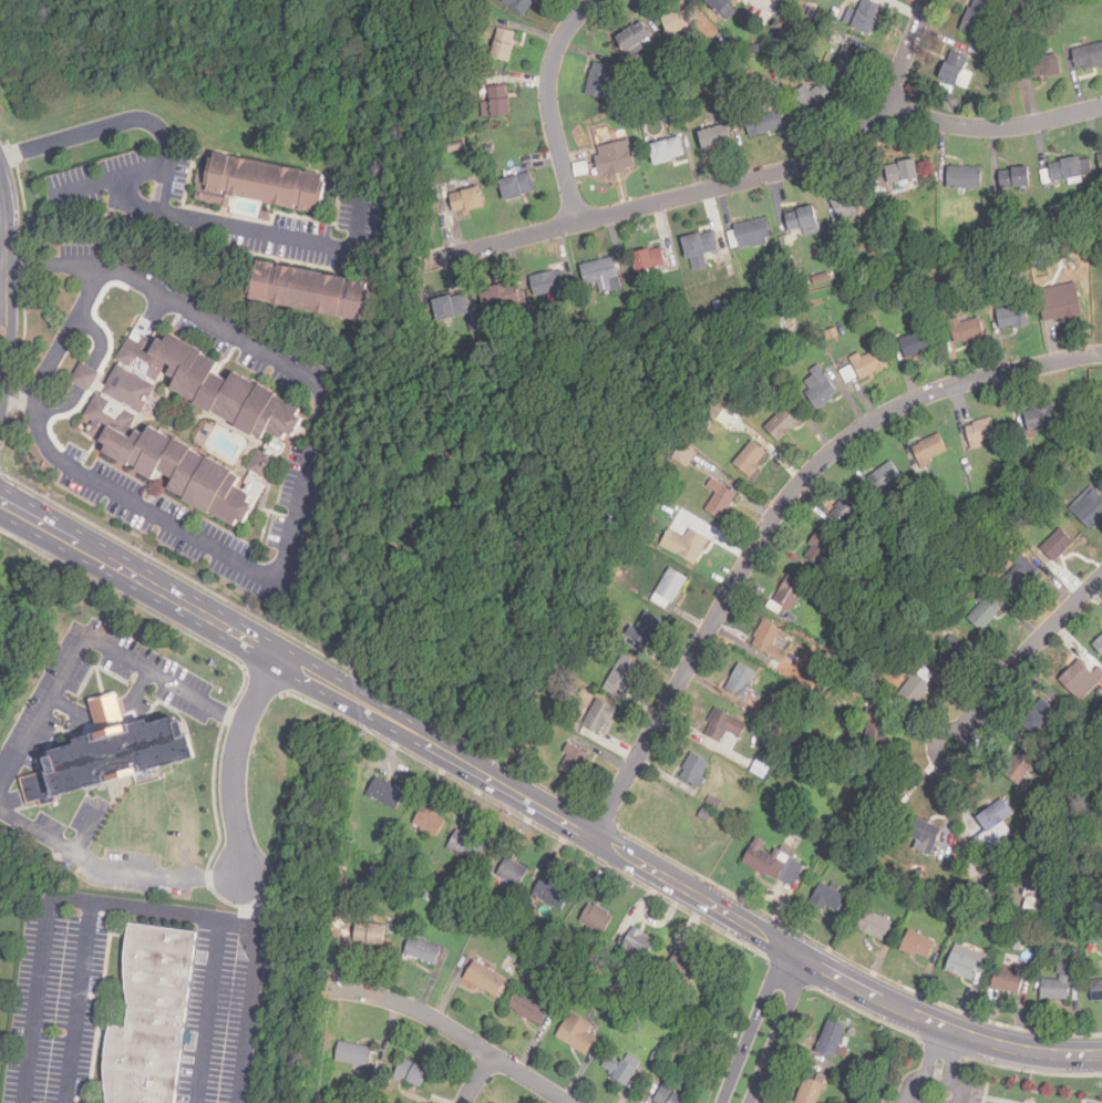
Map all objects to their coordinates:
building: (1039, 3)
building: (721, 4)
building: (523, 6)
building: (812, 14)
building: (848, 18)
building: (867, 18)
building: (977, 18)
building: (680, 22)
building: (832, 25)
building: (635, 38)
building: (505, 48)
building: (1088, 56)
building: (783, 59)
building: (691, 63)
building: (1005, 63)
building: (847, 64)
building: (1046, 66)
building: (955, 68)
building: (600, 81)
building: (672, 87)
building: (452, 94)
building: (501, 101)
building: (812, 101)
road: (549, 104)
building: (485, 107)
building: (765, 122)
road: (991, 128)
building: (715, 137)
building: (666, 145)
building: (457, 147)
building: (490, 148)
building: (615, 155)
building: (1101, 159)
building: (1071, 171)
building: (905, 176)
building: (966, 178)
building: (1016, 178)
road: (111, 181)
building: (260, 184)
building: (516, 186)
road: (721, 187)
road: (4, 199)
building: (468, 200)
road: (165, 202)
building: (849, 203)
building: (266, 217)
building: (804, 221)
building: (751, 235)
building: (1021, 240)
building: (841, 247)
building: (701, 249)
building: (909, 257)
road: (3, 260)
building: (649, 262)
building: (601, 275)
building: (995, 276)
building: (549, 284)
building: (761, 287)
building: (312, 290)
building: (887, 298)
building: (503, 299)
building: (730, 303)
building: (719, 307)
building: (1067, 307)
building: (452, 308)
building: (1015, 318)
building: (967, 330)
building: (753, 332)
road: (66, 333)
building: (833, 334)
building: (917, 344)
building: (512, 349)
building: (869, 364)
building: (848, 372)
road: (84, 374)
building: (820, 389)
road: (14, 399)
building: (1041, 419)
building: (783, 425)
building: (707, 426)
building: (269, 429)
building: (981, 433)
building: (930, 451)
building: (686, 456)
road: (306, 457)
building: (751, 460)
building: (1064, 474)
building: (885, 478)
building: (506, 491)
building: (721, 501)
building: (940, 508)
building: (1092, 509)
building: (477, 512)
road: (776, 513)
building: (847, 513)
building: (646, 514)
building: (686, 545)
building: (1058, 546)
building: (820, 549)
building: (889, 569)
building: (610, 570)
building: (1020, 577)
road: (138, 580)
building: (670, 589)
building: (790, 590)
building: (986, 612)
building: (792, 617)
building: (646, 629)
building: (770, 638)
building: (1100, 645)
road: (87, 646)
road: (1028, 652)
building: (952, 654)
building: (896, 658)
building: (774, 662)
building: (818, 667)
building: (624, 677)
building: (741, 680)
building: (1080, 680)
building: (918, 688)
building: (107, 712)
building: (600, 717)
building: (1040, 718)
building: (538, 722)
building: (719, 726)
building: (877, 729)
building: (518, 738)
road: (435, 746)
building: (117, 754)
building: (1044, 754)
road: (234, 762)
building: (575, 763)
building: (806, 766)
building: (1021, 767)
building: (761, 770)
building: (696, 771)
building: (38, 788)
building: (880, 790)
building: (387, 794)
building: (707, 815)
building: (431, 823)
building: (356, 827)
road: (542, 828)
building: (993, 829)
building: (925, 835)
building: (467, 847)
building: (400, 854)
building: (852, 854)
building: (773, 863)
road: (112, 872)
building: (513, 873)
road: (653, 873)
building: (384, 887)
building: (552, 895)
road: (244, 897)
building: (428, 897)
building: (828, 900)
road: (52, 903)
building: (1032, 906)
building: (597, 919)
building: (988, 920)
building: (876, 928)
building: (567, 930)
building: (1089, 934)
building: (371, 936)
building: (1060, 936)
building: (513, 938)
building: (639, 944)
building: (917, 947)
building: (1017, 948)
building: (424, 952)
building: (1075, 953)
building: (968, 965)
building: (1075, 968)
building: (683, 969)
building: (486, 980)
building: (1008, 983)
building: (621, 986)
building: (1058, 986)
building: (1096, 991)
road: (250, 1004)
building: (529, 1008)
road: (898, 1009)
building: (153, 1017)
road: (764, 1028)
building: (576, 1032)
road: (453, 1033)
building: (832, 1041)
road: (931, 1053)
building: (354, 1054)
road: (952, 1058)
building: (624, 1069)
building: (410, 1074)
road: (476, 1079)
road: (933, 1081)
building: (813, 1091)
building: (381, 1093)
building: (669, 1097)
road: (986, 1097)
building: (434, 1100)

